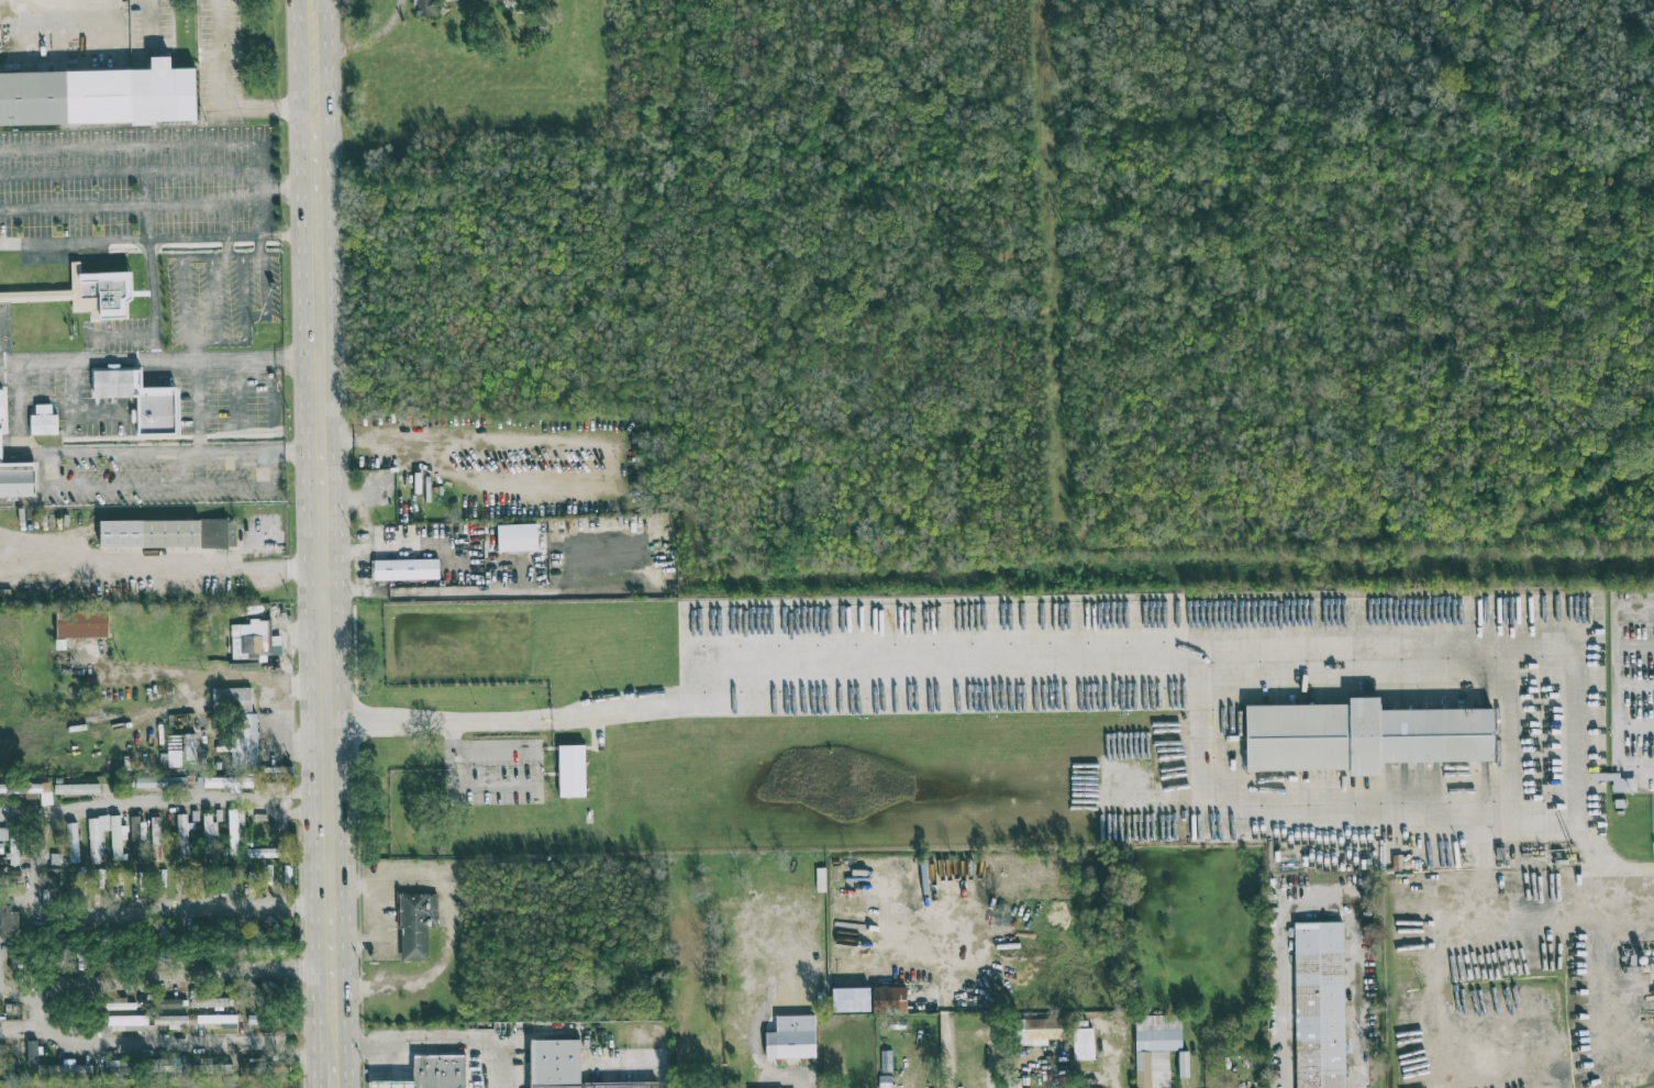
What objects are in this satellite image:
building: (510, 0)
building: (426, 8)
road: (233, 86)
road: (298, 95)
road: (326, 95)
building: (99, 96)
road: (127, 146)
road: (129, 171)
road: (257, 189)
road: (147, 191)
road: (129, 203)
road: (225, 218)
road: (287, 234)
road: (130, 237)
road: (226, 245)
road: (244, 253)
road: (203, 256)
road: (244, 285)
building: (101, 292)
road: (154, 299)
road: (213, 299)
road: (182, 302)
road: (257, 314)
road: (196, 352)
road: (235, 359)
road: (78, 362)
building: (141, 399)
building: (44, 421)
road: (295, 454)
building: (14, 470)
road: (158, 484)
building: (167, 533)
building: (517, 537)
building: (406, 569)
road: (159, 579)
road: (320, 587)
building: (82, 623)
road: (1620, 628)
road: (1520, 634)
building: (254, 640)
road: (758, 666)
road: (202, 676)
road: (1638, 685)
parking lot: (1633, 686)
road: (1621, 704)
building: (240, 725)
road: (1507, 728)
building: (1357, 737)
road: (1621, 743)
building: (180, 750)
building: (571, 770)
building: (1617, 781)
building: (160, 782)
building: (226, 782)
building: (77, 788)
road: (293, 789)
building: (30, 790)
road: (132, 801)
road: (290, 813)
building: (235, 832)
building: (1652, 832)
building: (3, 833)
building: (209, 833)
building: (184, 834)
building: (97, 836)
building: (118, 837)
building: (137, 839)
building: (155, 839)
road: (1592, 841)
building: (73, 842)
building: (12, 846)
building: (1, 848)
building: (262, 852)
road: (36, 854)
road: (1630, 869)
building: (10, 875)
building: (55, 884)
road: (1322, 896)
road: (160, 909)
building: (8, 921)
building: (417, 923)
road: (448, 924)
road: (385, 939)
building: (1653, 967)
road: (1612, 972)
road: (179, 973)
building: (245, 987)
building: (270, 992)
road: (31, 995)
building: (889, 1000)
building: (209, 1002)
building: (170, 1003)
building: (115, 1004)
building: (1324, 1007)
road: (329, 1014)
building: (212, 1019)
building: (171, 1020)
building: (126, 1025)
building: (1036, 1031)
road: (437, 1036)
building: (791, 1037)
building: (1083, 1043)
road: (163, 1044)
building: (1155, 1048)
road: (330, 1050)
road: (946, 1052)
building: (32, 1057)
building: (886, 1061)
road: (988, 1062)
building: (1183, 1064)
building: (163, 1065)
building: (211, 1067)
building: (565, 1067)
building: (69, 1069)
road: (331, 1073)
building: (432, 1073)

